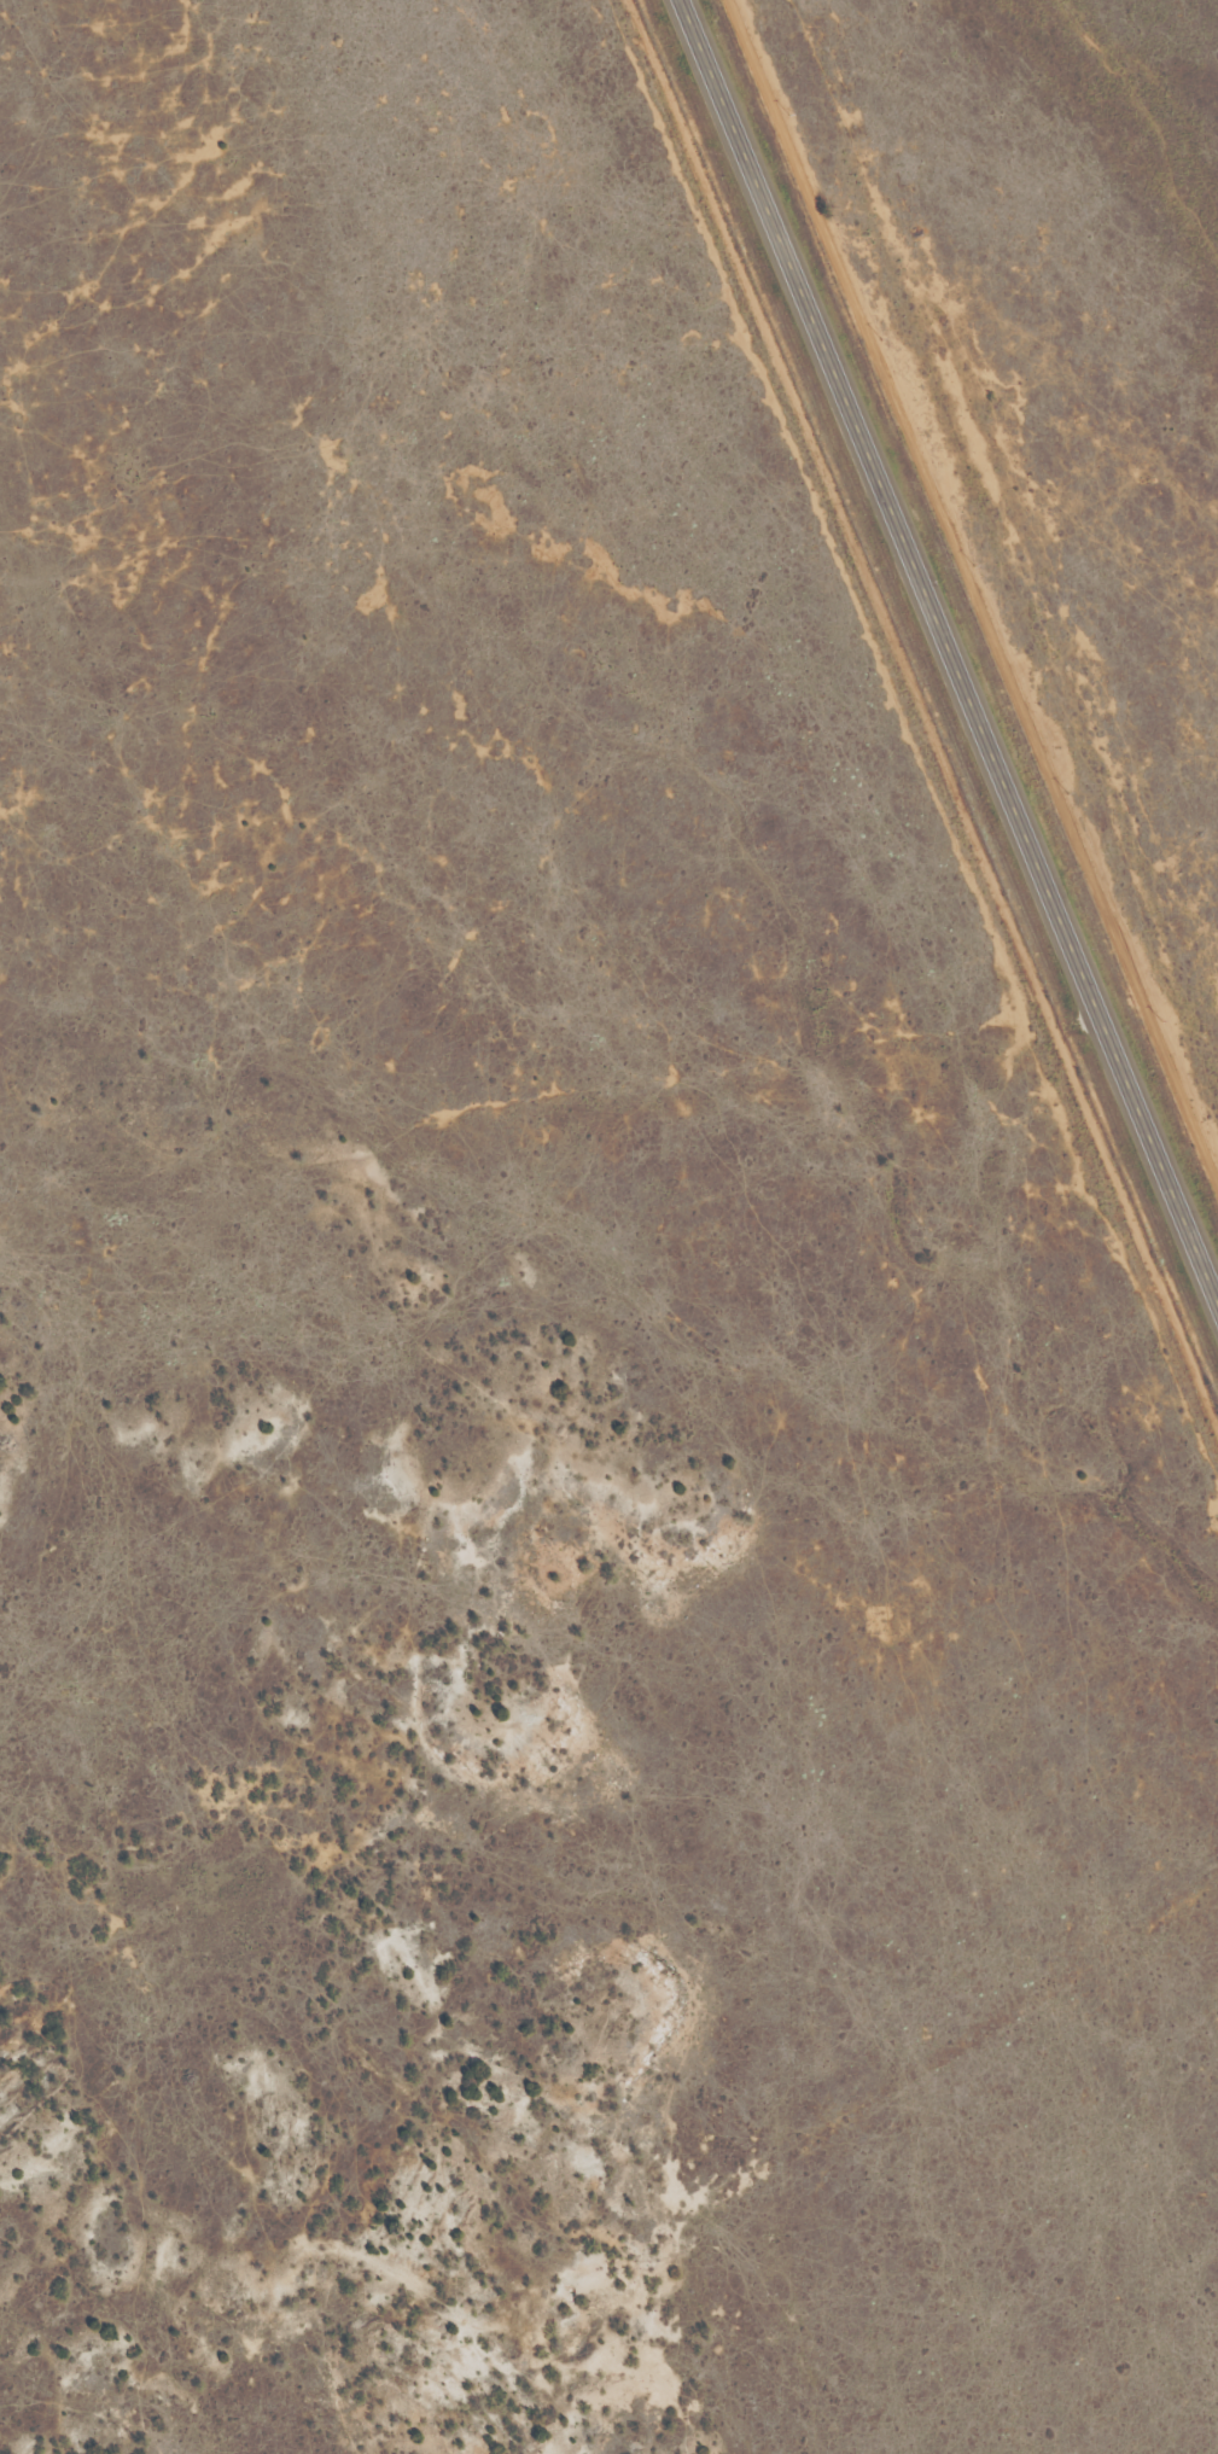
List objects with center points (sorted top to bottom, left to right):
road: (973, 591)
road: (949, 652)
road: (915, 728)

